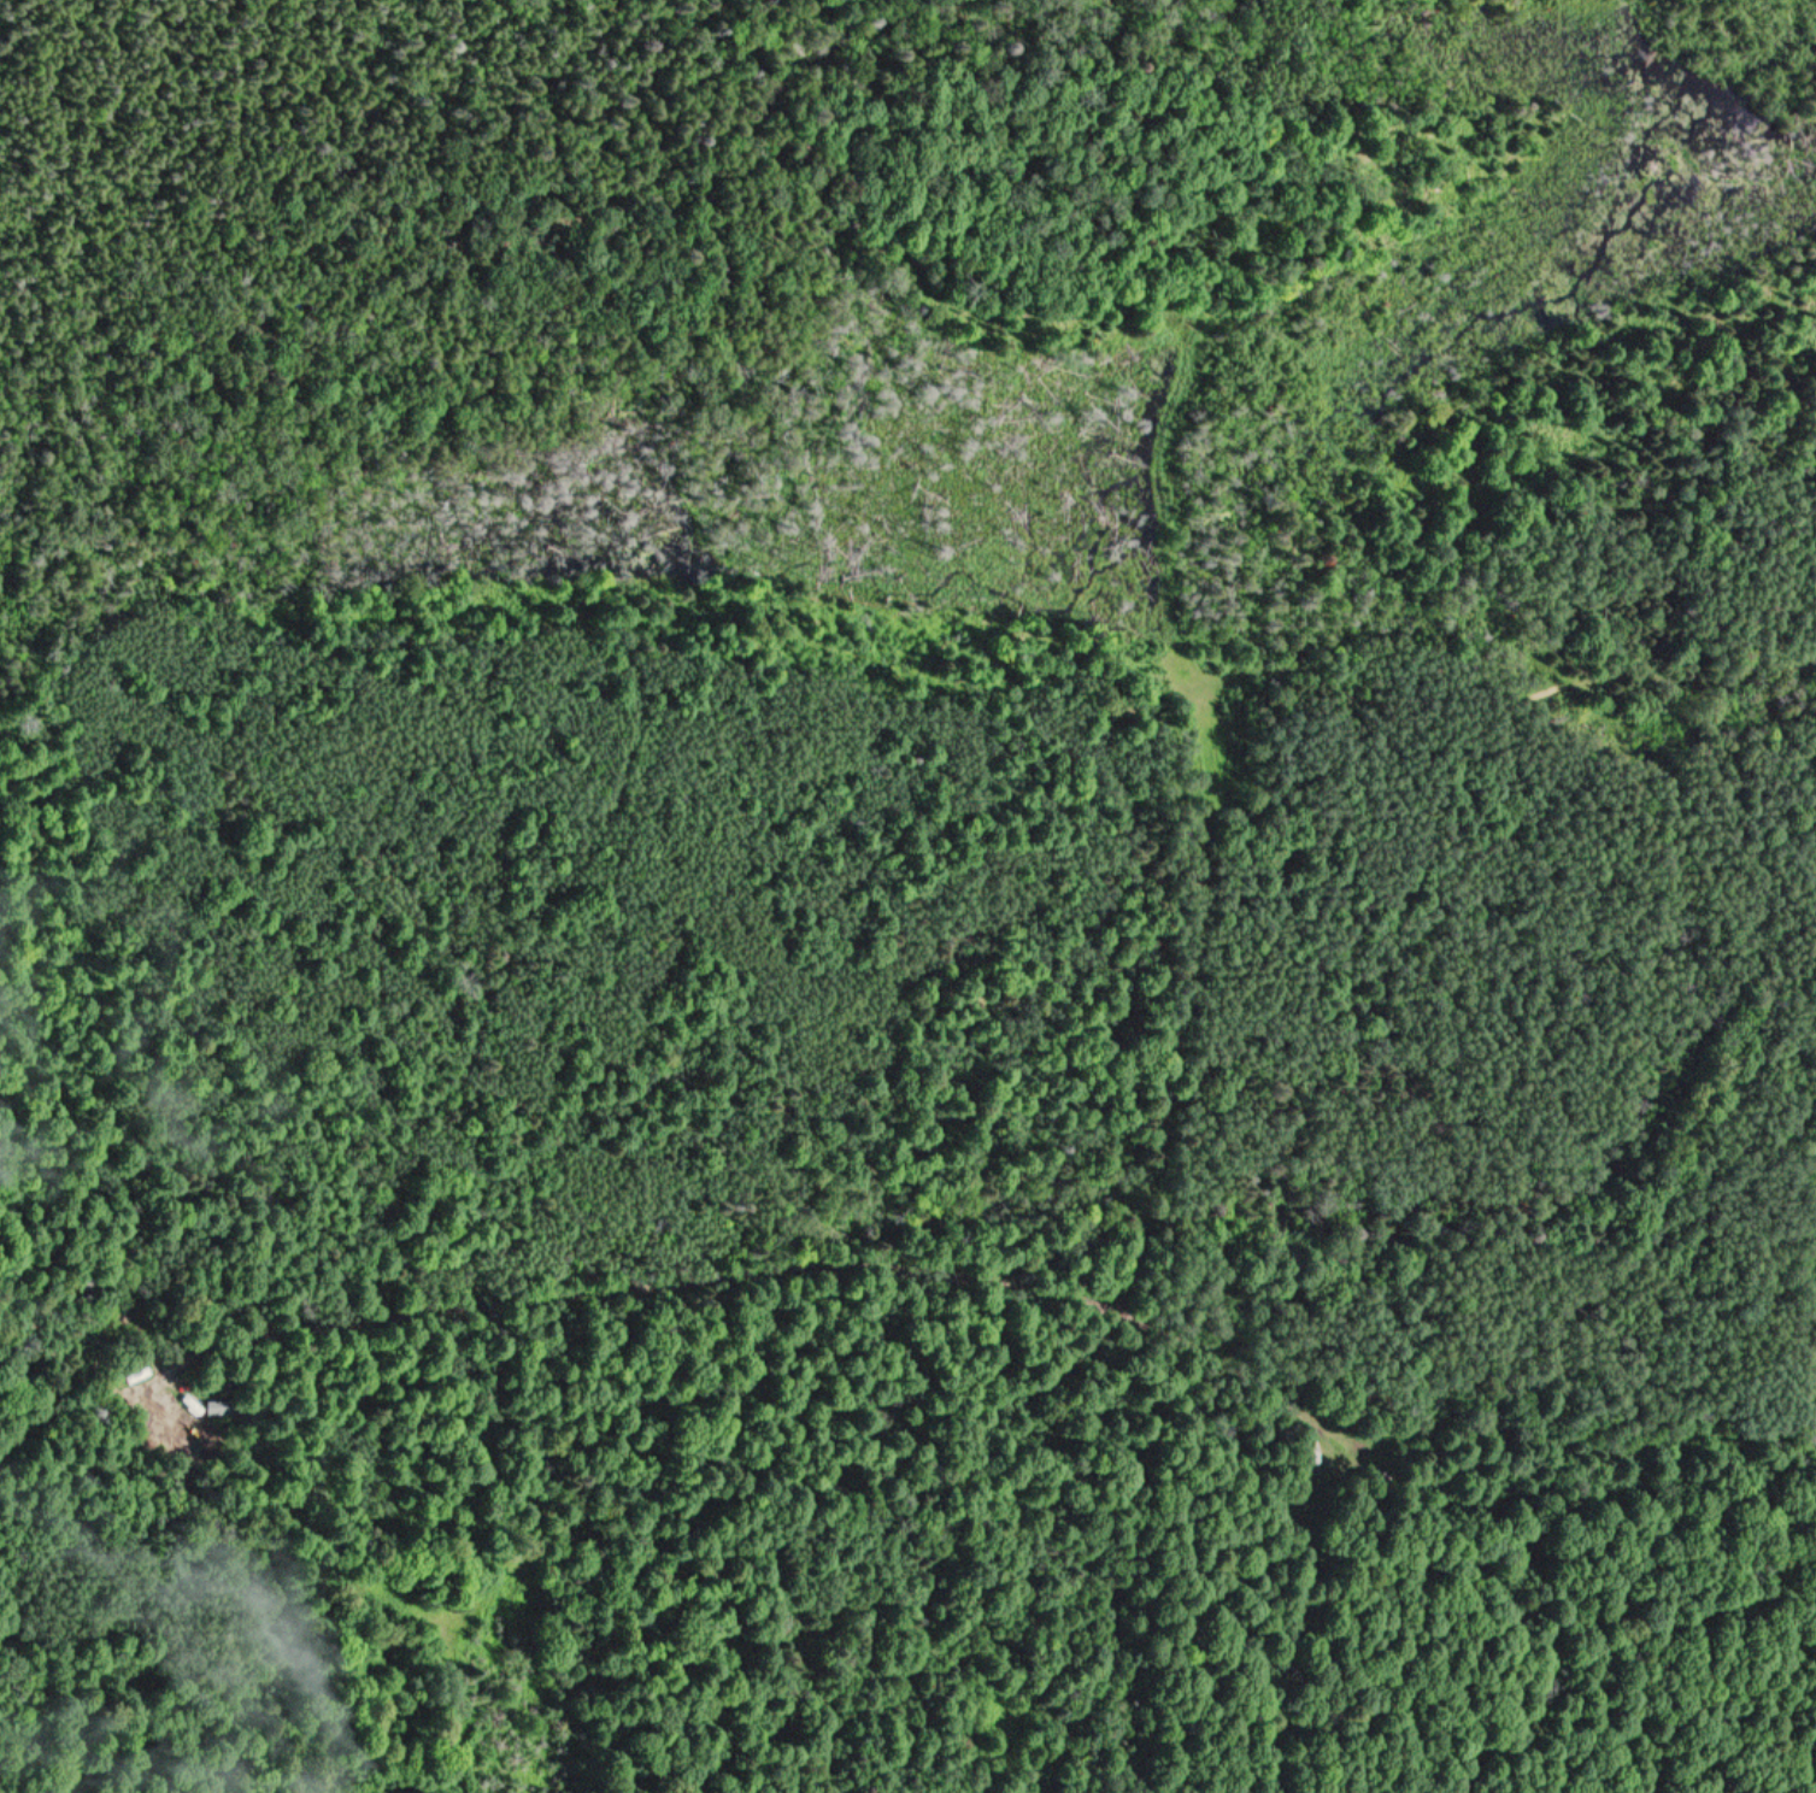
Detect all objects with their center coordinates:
road: (59, 1397)

